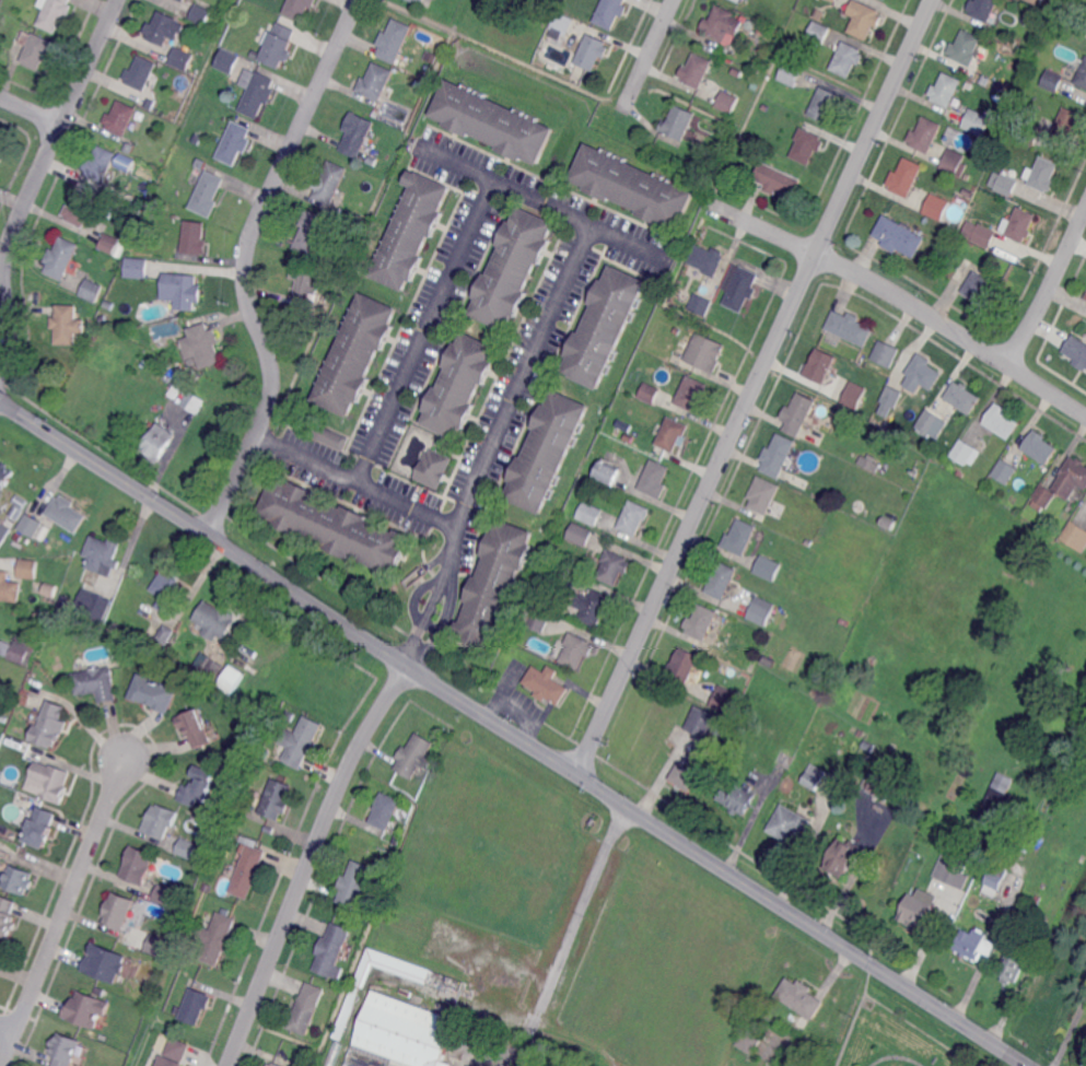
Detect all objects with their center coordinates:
building: (183, 0)
building: (739, 0)
building: (834, 0)
building: (836, 0)
building: (417, 2)
building: (1036, 2)
building: (300, 8)
building: (983, 8)
building: (201, 11)
building: (54, 13)
building: (612, 13)
building: (819, 13)
building: (864, 17)
building: (2, 19)
building: (563, 24)
building: (723, 25)
building: (752, 25)
building: (161, 27)
building: (762, 30)
building: (819, 33)
building: (394, 43)
building: (279, 44)
building: (816, 46)
building: (35, 48)
building: (966, 48)
building: (594, 50)
building: (255, 52)
road: (650, 54)
building: (432, 56)
building: (848, 58)
building: (180, 59)
building: (230, 63)
building: (698, 70)
building: (140, 72)
building: (791, 72)
building: (1082, 75)
building: (985, 79)
building: (1051, 80)
building: (376, 81)
building: (420, 84)
building: (970, 84)
building: (946, 90)
building: (257, 92)
building: (728, 101)
building: (237, 102)
building: (826, 103)
building: (149, 104)
building: (767, 106)
road: (30, 109)
building: (120, 117)
building: (977, 120)
building: (679, 122)
building: (494, 124)
building: (1069, 124)
building: (397, 133)
building: (925, 134)
building: (1030, 134)
building: (211, 137)
building: (359, 137)
building: (234, 143)
building: (808, 144)
building: (1, 148)
building: (129, 149)
building: (125, 157)
road: (454, 161)
building: (953, 162)
building: (100, 163)
building: (202, 163)
building: (710, 174)
building: (961, 174)
building: (1041, 175)
building: (906, 177)
building: (778, 178)
road: (35, 179)
building: (332, 184)
building: (1004, 184)
building: (633, 187)
building: (209, 194)
building: (937, 208)
building: (80, 209)
road: (557, 209)
building: (353, 216)
building: (1020, 224)
building: (413, 231)
building: (312, 233)
building: (981, 233)
building: (196, 237)
building: (896, 237)
building: (141, 239)
building: (109, 243)
road: (630, 243)
building: (61, 257)
building: (709, 258)
road: (245, 265)
building: (138, 267)
building: (514, 269)
building: (102, 281)
building: (302, 284)
building: (739, 286)
building: (982, 286)
road: (1049, 288)
building: (91, 291)
building: (182, 291)
building: (1085, 296)
road: (906, 297)
building: (109, 303)
building: (702, 303)
building: (103, 319)
building: (68, 324)
building: (605, 327)
building: (851, 327)
building: (677, 331)
building: (202, 345)
building: (1077, 350)
building: (885, 352)
building: (704, 353)
building: (357, 355)
building: (820, 365)
building: (925, 371)
building: (460, 386)
road: (755, 386)
building: (175, 391)
building: (650, 391)
building: (691, 393)
building: (854, 394)
building: (894, 395)
building: (965, 396)
building: (195, 401)
building: (801, 415)
building: (1003, 420)
building: (933, 422)
building: (624, 426)
building: (673, 433)
building: (326, 435)
building: (629, 438)
building: (160, 443)
building: (1040, 446)
building: (547, 452)
building: (966, 452)
building: (779, 455)
building: (869, 462)
building: (434, 469)
building: (1006, 470)
building: (609, 471)
building: (961, 473)
building: (5, 475)
building: (1072, 477)
building: (655, 479)
building: (763, 494)
building: (1044, 495)
road: (408, 504)
building: (17, 511)
building: (591, 513)
building: (66, 514)
building: (634, 516)
building: (887, 522)
building: (31, 525)
building: (334, 526)
building: (4, 531)
building: (581, 534)
building: (16, 536)
building: (740, 536)
building: (1075, 537)
building: (102, 552)
building: (615, 566)
building: (769, 566)
building: (27, 569)
building: (557, 573)
building: (721, 578)
building: (495, 585)
building: (9, 587)
building: (49, 593)
building: (166, 593)
building: (65, 602)
building: (92, 605)
building: (594, 605)
building: (16, 610)
building: (762, 610)
building: (60, 617)
building: (535, 618)
building: (215, 620)
building: (702, 621)
building: (164, 634)
building: (19, 649)
building: (576, 649)
building: (189, 658)
building: (684, 664)
building: (751, 667)
building: (213, 668)
building: (230, 679)
building: (95, 682)
building: (547, 683)
building: (152, 691)
building: (8, 693)
building: (725, 699)
building: (3, 718)
building: (702, 721)
building: (49, 724)
building: (197, 728)
building: (861, 733)
road: (513, 734)
building: (301, 740)
building: (414, 755)
building: (785, 758)
building: (814, 776)
building: (684, 777)
building: (49, 778)
building: (197, 785)
building: (879, 786)
building: (738, 797)
building: (276, 798)
building: (900, 798)
building: (996, 799)
building: (1056, 800)
building: (383, 809)
building: (159, 821)
building: (40, 825)
building: (789, 825)
building: (396, 840)
building: (184, 848)
building: (842, 856)
building: (1082, 859)
road: (308, 862)
building: (136, 864)
building: (953, 870)
building: (247, 871)
building: (17, 878)
building: (994, 879)
building: (354, 883)
building: (1061, 883)
building: (207, 888)
building: (162, 893)
building: (918, 910)
building: (118, 911)
road: (61, 912)
building: (7, 914)
road: (569, 934)
building: (217, 938)
building: (973, 944)
building: (155, 946)
building: (330, 949)
building: (0, 956)
building: (0, 958)
building: (104, 962)
building: (1013, 965)
building: (799, 997)
building: (195, 1005)
building: (85, 1008)
building: (176, 1009)
building: (305, 1009)
building: (347, 1014)
road: (854, 1015)
road: (5, 1030)
road: (919, 1030)
road: (1071, 1031)
building: (400, 1035)
building: (747, 1041)
building: (176, 1047)
building: (63, 1050)
building: (331, 1053)
road: (895, 1055)
building: (167, 1061)
building: (273, 1064)

